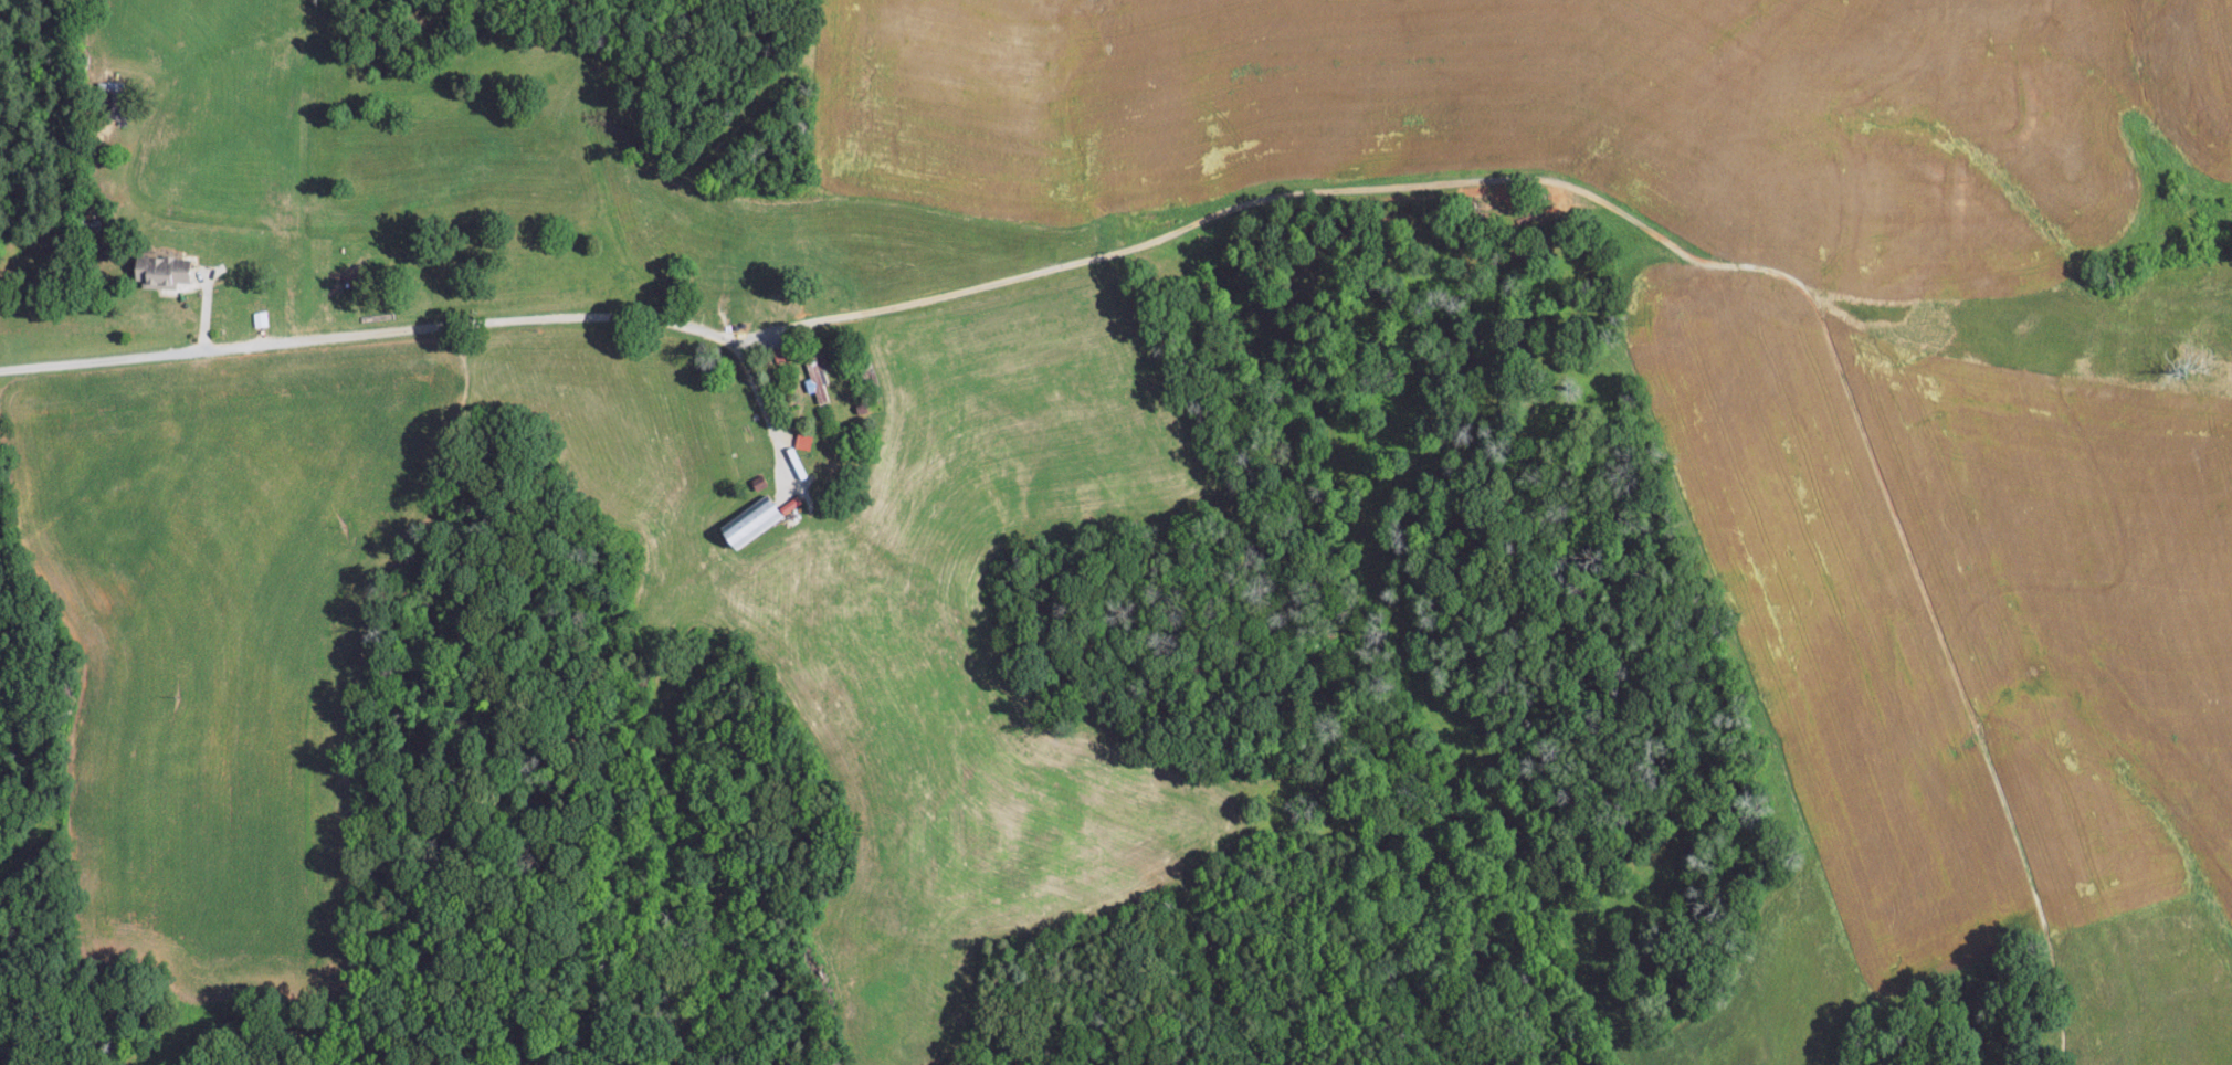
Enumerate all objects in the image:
building: (158, 270)
road: (428, 325)
building: (815, 381)
building: (803, 441)
building: (747, 521)

